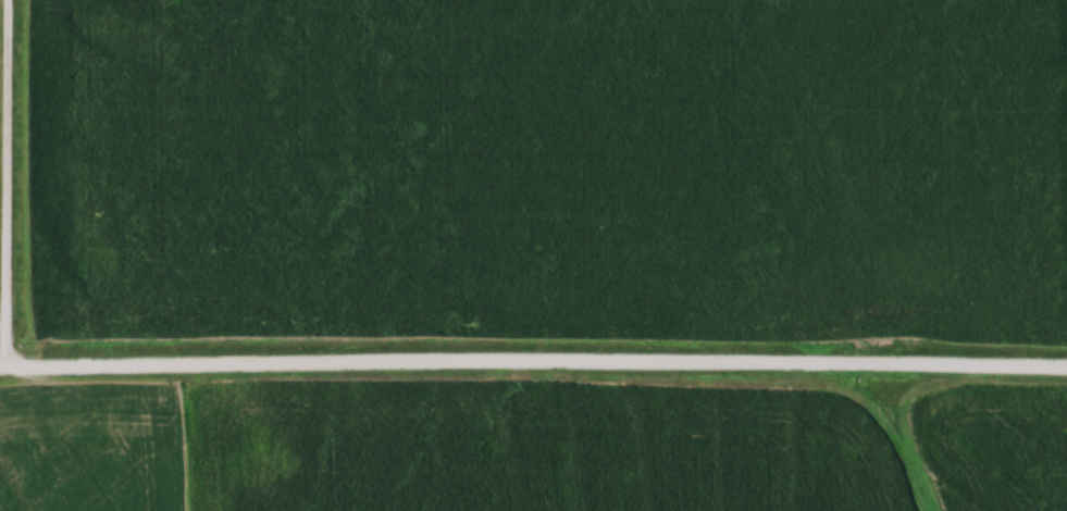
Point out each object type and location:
road: (8, 184)
road: (533, 366)

